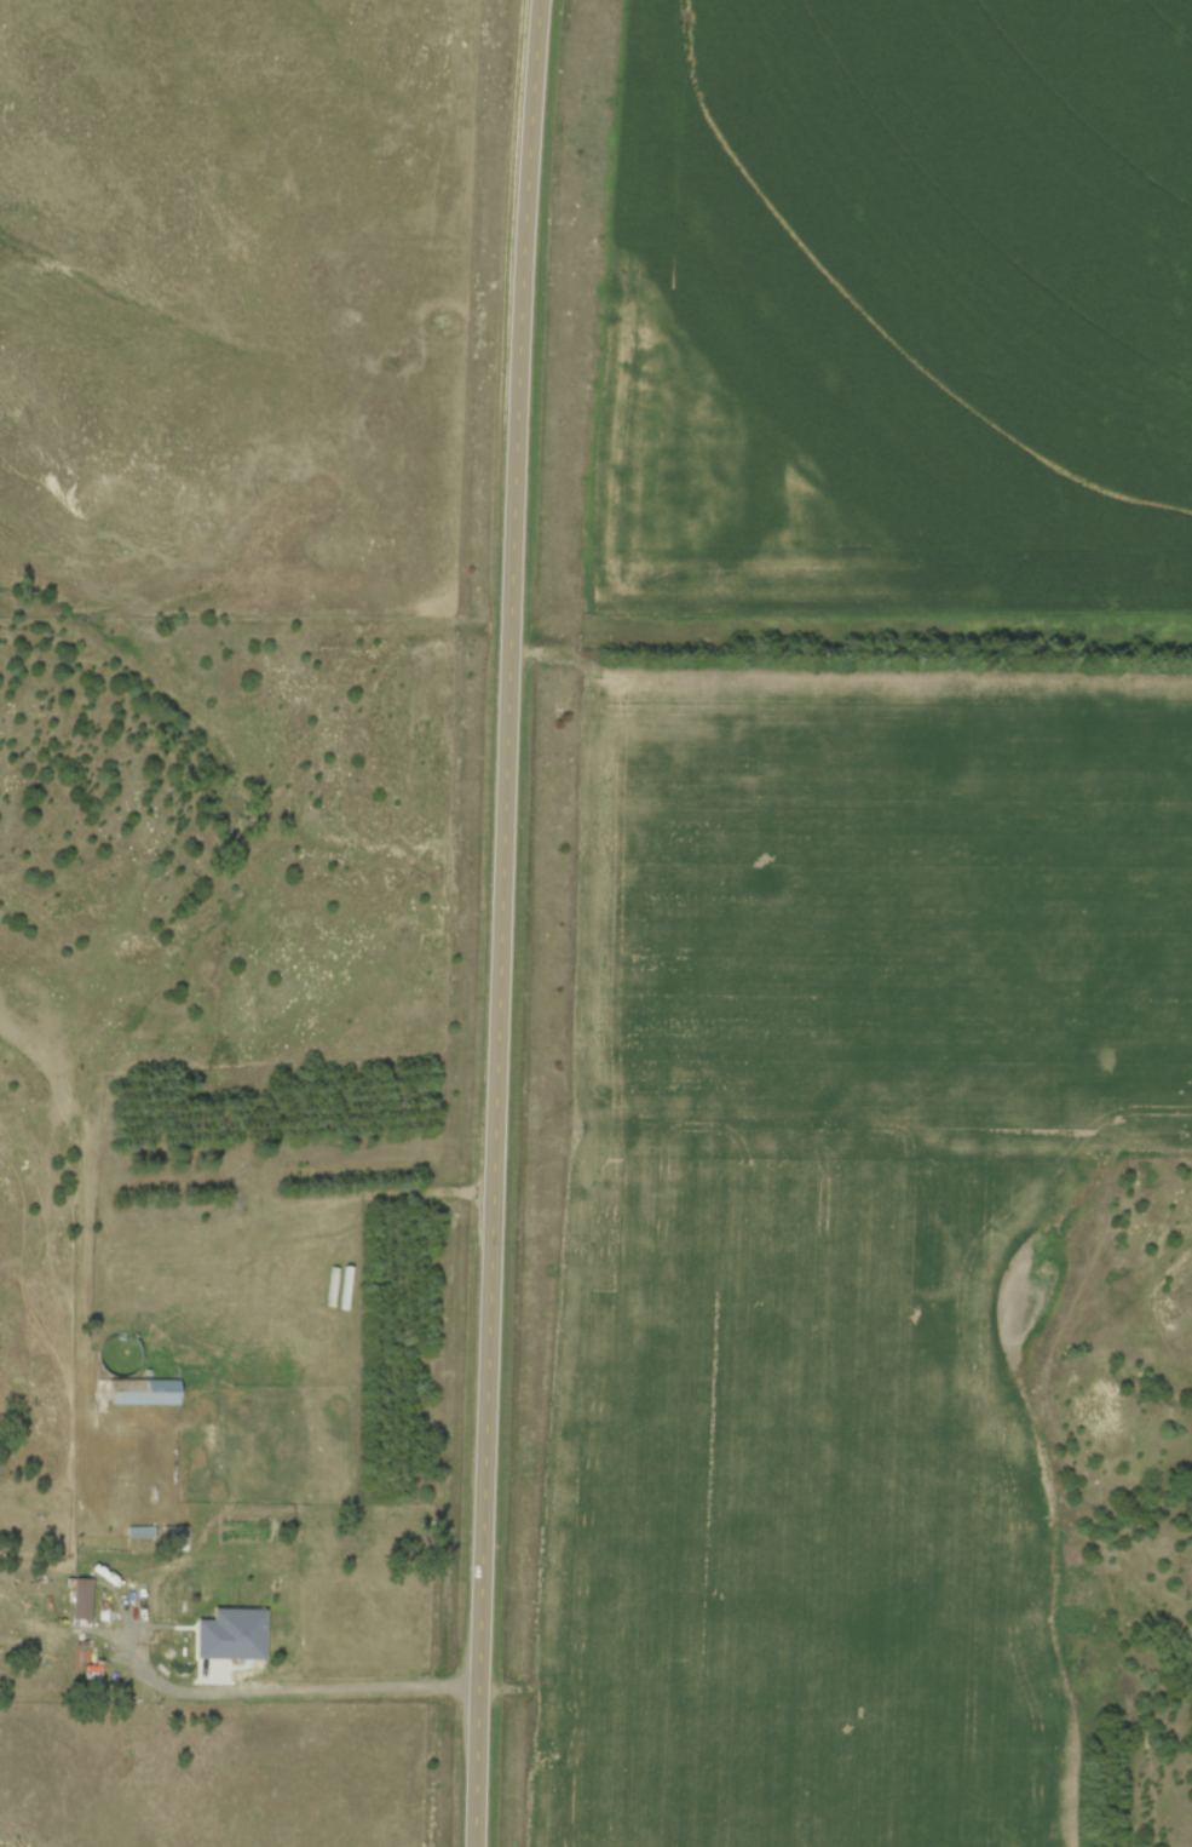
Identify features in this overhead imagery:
road: (508, 923)
crop: (847, 1240)
building: (155, 1396)
building: (82, 1600)
building: (247, 1631)
road: (290, 1687)

